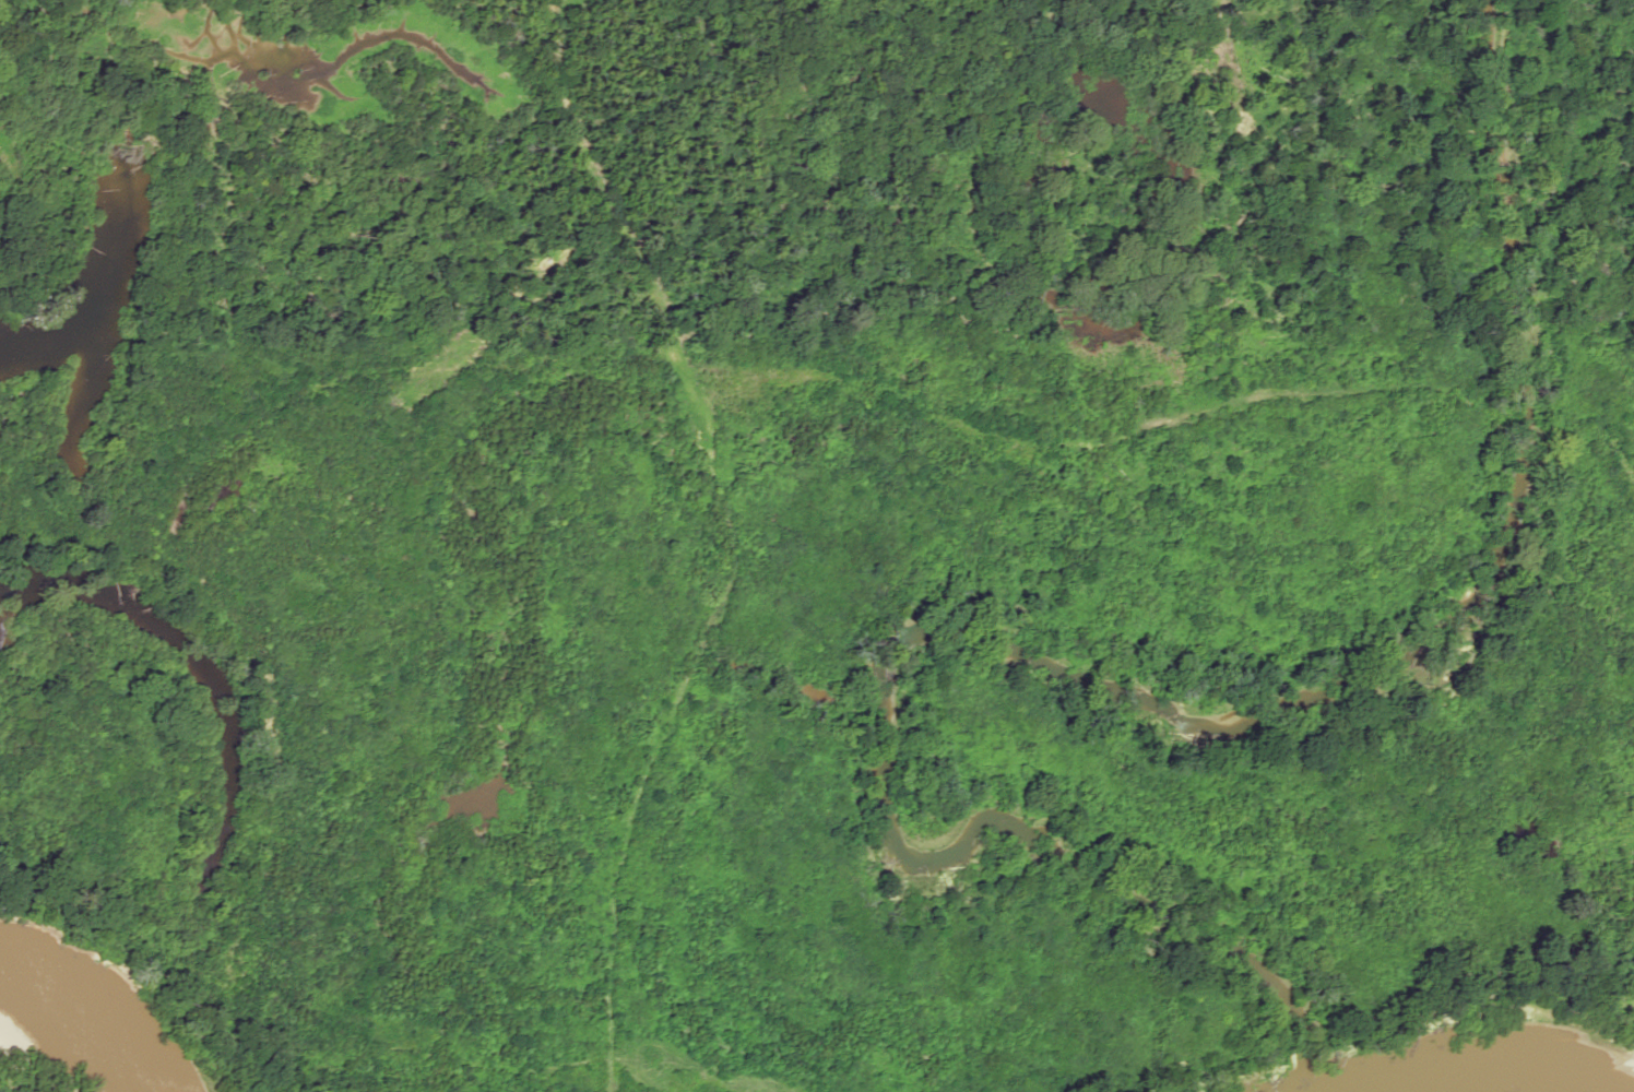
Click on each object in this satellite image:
river: (82, 1045)
river: (1495, 1072)

